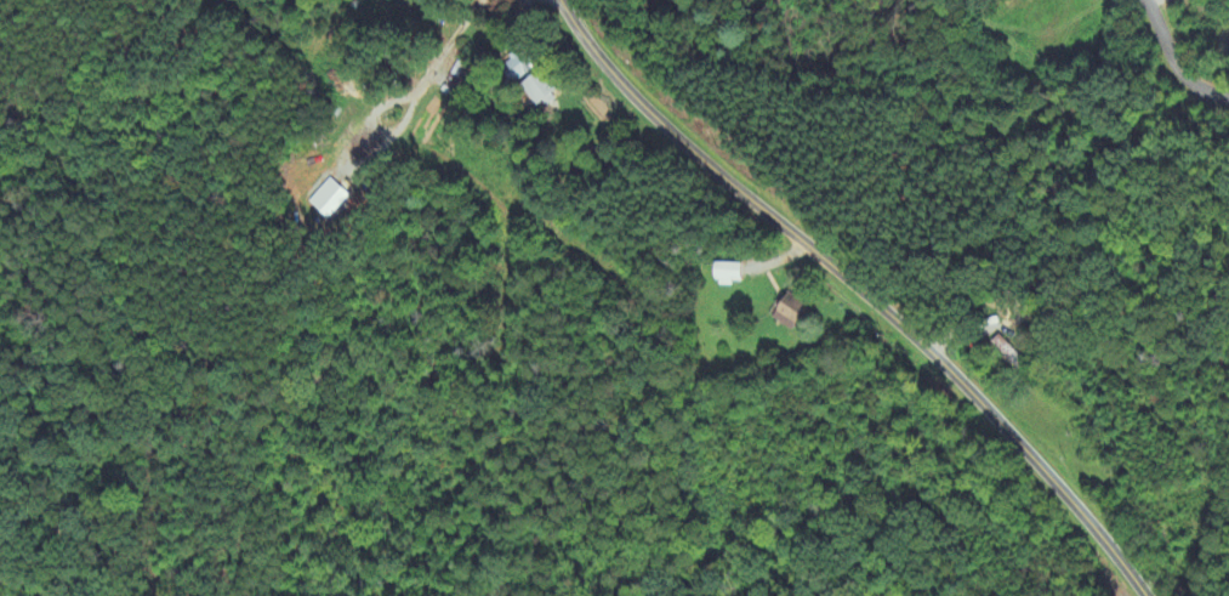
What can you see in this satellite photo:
road: (1177, 61)
building: (534, 91)
building: (326, 200)
building: (723, 274)
road: (864, 286)
building: (786, 311)

